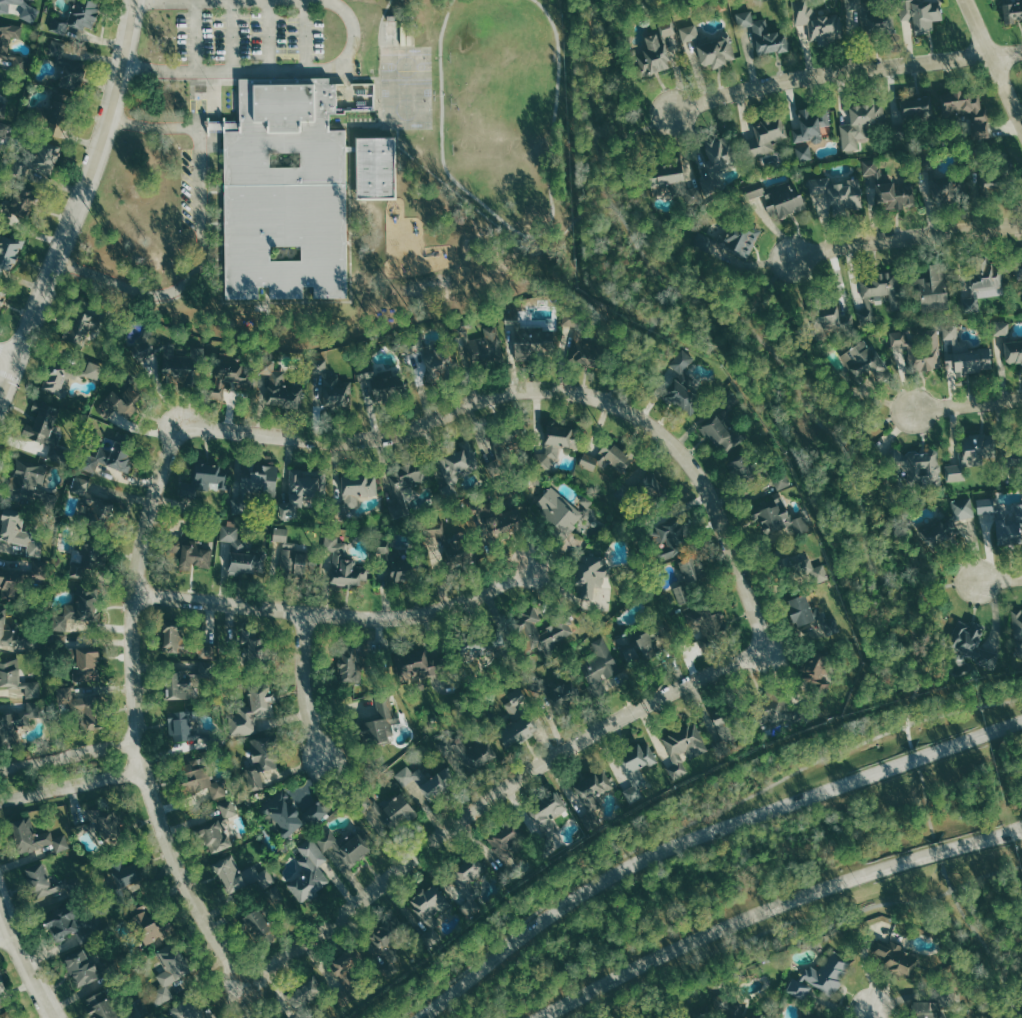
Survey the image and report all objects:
building: (31, 11)
building: (1011, 11)
building: (863, 13)
building: (921, 13)
building: (83, 15)
road: (380, 21)
building: (818, 22)
building: (668, 27)
building: (690, 32)
parking lot: (250, 34)
building: (763, 34)
road: (197, 35)
road: (233, 35)
road: (271, 35)
road: (306, 35)
road: (353, 40)
building: (5, 45)
building: (716, 50)
building: (653, 55)
building: (68, 56)
road: (993, 62)
road: (846, 72)
building: (57, 103)
parking lot: (198, 104)
building: (916, 108)
building: (3, 110)
building: (967, 111)
road: (354, 123)
building: (861, 124)
building: (811, 125)
road: (635, 130)
building: (54, 131)
building: (768, 136)
building: (718, 152)
building: (804, 153)
building: (42, 162)
building: (375, 166)
building: (666, 173)
building: (709, 185)
parking lot: (187, 187)
building: (889, 187)
building: (285, 191)
building: (839, 192)
building: (778, 198)
building: (16, 205)
road: (76, 205)
road: (208, 213)
road: (495, 223)
road: (201, 231)
road: (519, 232)
road: (907, 238)
building: (742, 239)
building: (704, 241)
building: (9, 251)
road: (220, 262)
building: (1019, 269)
road: (209, 279)
building: (981, 283)
building: (881, 286)
road: (765, 288)
building: (934, 289)
building: (1, 298)
building: (874, 300)
building: (827, 321)
building: (1002, 328)
building: (81, 329)
building: (534, 341)
road: (639, 342)
building: (487, 347)
building: (920, 349)
building: (585, 350)
road: (8, 352)
building: (158, 352)
building: (1013, 352)
road: (775, 354)
building: (965, 354)
building: (864, 362)
building: (439, 363)
building: (94, 369)
building: (56, 382)
building: (680, 383)
building: (281, 386)
building: (330, 389)
building: (382, 389)
road: (542, 393)
building: (117, 402)
road: (968, 403)
road: (875, 422)
building: (43, 423)
building: (719, 435)
building: (554, 445)
building: (972, 456)
building: (111, 457)
building: (460, 460)
building: (605, 460)
building: (743, 465)
building: (917, 467)
building: (409, 475)
building: (28, 481)
building: (260, 481)
building: (652, 485)
building: (81, 486)
building: (358, 489)
building: (303, 492)
building: (986, 506)
building: (559, 510)
building: (98, 511)
building: (593, 513)
building: (776, 515)
building: (1008, 523)
building: (948, 524)
building: (20, 532)
building: (281, 534)
building: (436, 535)
building: (668, 538)
building: (240, 551)
building: (190, 553)
building: (292, 559)
building: (344, 565)
building: (86, 567)
building: (792, 567)
building: (38, 572)
building: (688, 572)
building: (594, 579)
road: (1000, 579)
building: (6, 580)
road: (939, 586)
building: (683, 594)
building: (75, 613)
building: (809, 613)
road: (333, 615)
building: (712, 619)
building: (541, 631)
building: (8, 633)
building: (171, 633)
building: (60, 638)
building: (637, 644)
building: (481, 645)
building: (972, 647)
building: (412, 661)
building: (602, 663)
building: (84, 664)
building: (350, 664)
building: (815, 671)
building: (17, 678)
building: (177, 685)
road: (304, 685)
building: (556, 690)
building: (82, 706)
building: (779, 709)
road: (964, 709)
building: (253, 711)
road: (133, 713)
building: (381, 720)
building: (517, 720)
building: (17, 722)
building: (179, 725)
building: (730, 728)
building: (683, 748)
road: (66, 753)
building: (481, 753)
building: (260, 762)
building: (636, 769)
building: (201, 778)
building: (421, 784)
road: (70, 787)
road: (491, 792)
building: (208, 794)
building: (591, 795)
road: (926, 805)
building: (229, 808)
building: (398, 809)
building: (317, 810)
building: (284, 815)
building: (545, 819)
building: (106, 821)
road: (702, 834)
building: (216, 837)
building: (35, 838)
road: (639, 847)
building: (344, 848)
building: (506, 849)
building: (309, 871)
building: (126, 872)
building: (243, 876)
building: (42, 882)
building: (469, 883)
road: (773, 906)
building: (430, 910)
road: (797, 920)
building: (64, 923)
building: (144, 925)
building: (258, 926)
road: (3, 930)
building: (387, 940)
road: (981, 941)
road: (23, 961)
building: (901, 962)
building: (82, 967)
building: (827, 971)
building: (170, 972)
building: (345, 973)
building: (2, 978)
building: (301, 996)
building: (100, 1005)
building: (190, 1008)
building: (926, 1010)
building: (739, 1011)
building: (813, 1013)
road: (871, 1014)
building: (695, 1017)

